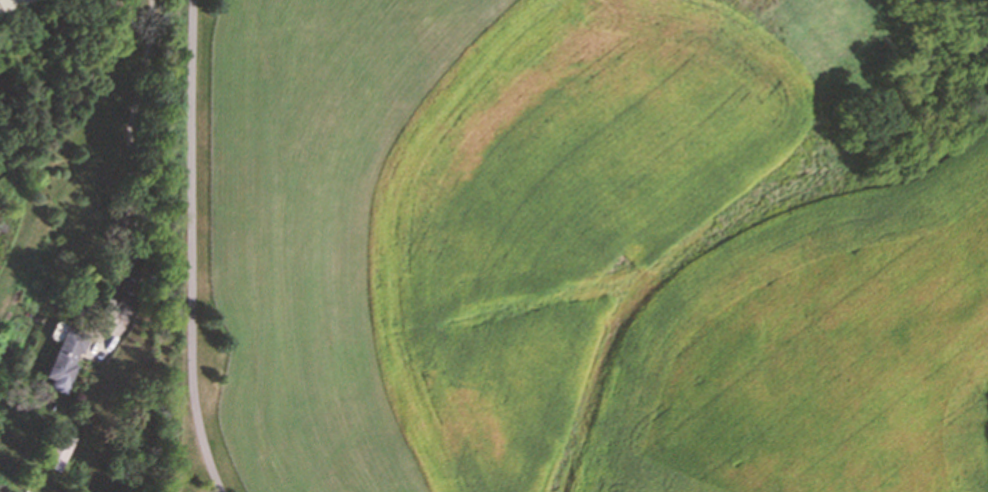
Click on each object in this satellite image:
road: (10, 3)
road: (133, 125)
road: (192, 248)
building: (130, 285)
building: (68, 355)
building: (59, 450)

